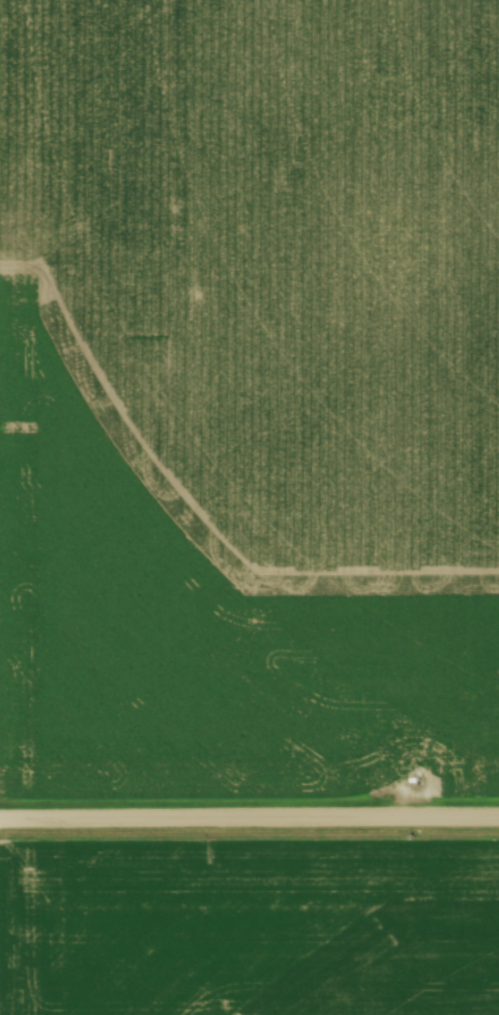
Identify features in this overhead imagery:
road: (249, 819)

